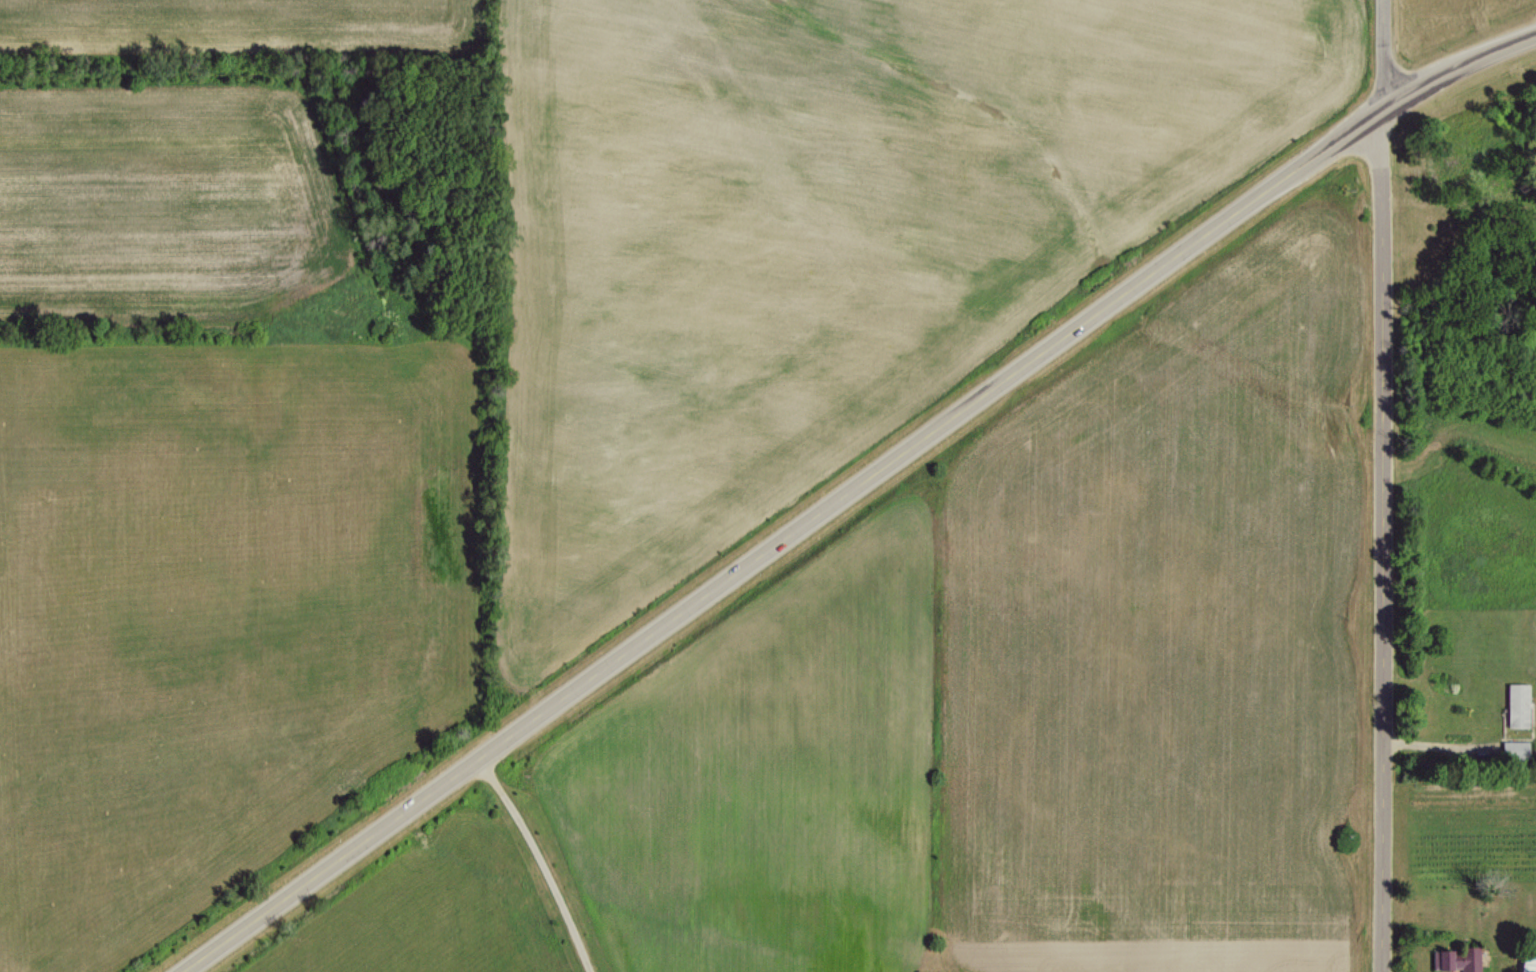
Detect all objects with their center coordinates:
road: (1386, 485)
road: (851, 490)
building: (1517, 704)
building: (1514, 749)
road: (546, 860)
building: (1457, 959)
building: (1528, 962)

